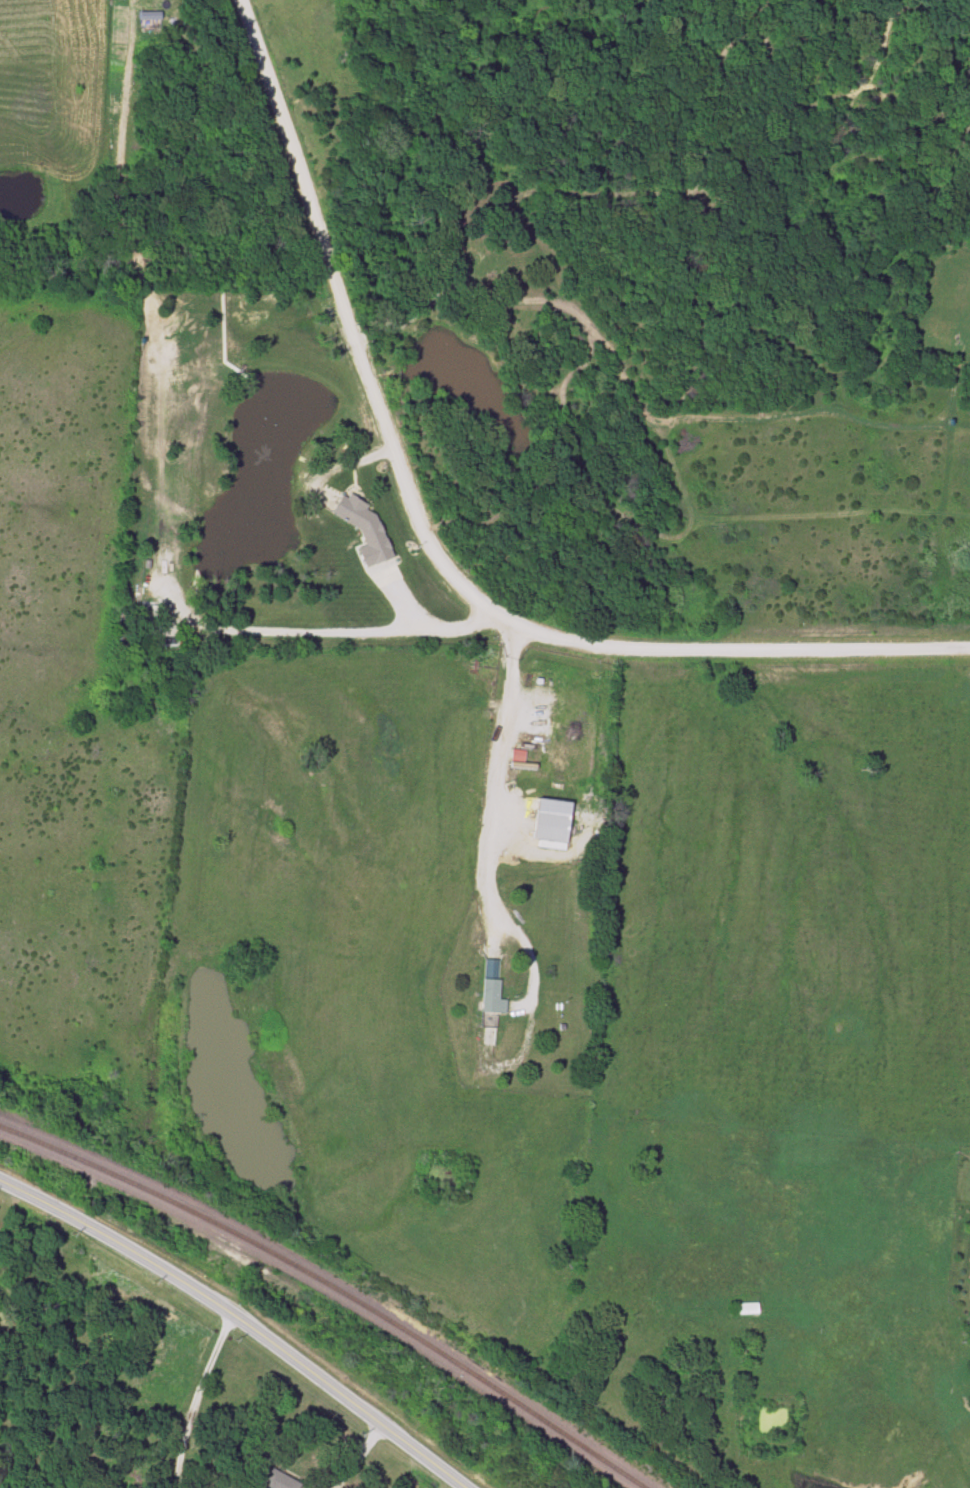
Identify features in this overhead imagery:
road: (346, 315)
building: (352, 511)
road: (348, 630)
road: (725, 650)
road: (968, 678)
building: (547, 821)
road: (490, 833)
building: (487, 986)
building: (969, 1261)
railway: (331, 1288)
building: (741, 1308)
road: (238, 1322)
road: (194, 1399)
road: (355, 1458)
building: (278, 1480)

